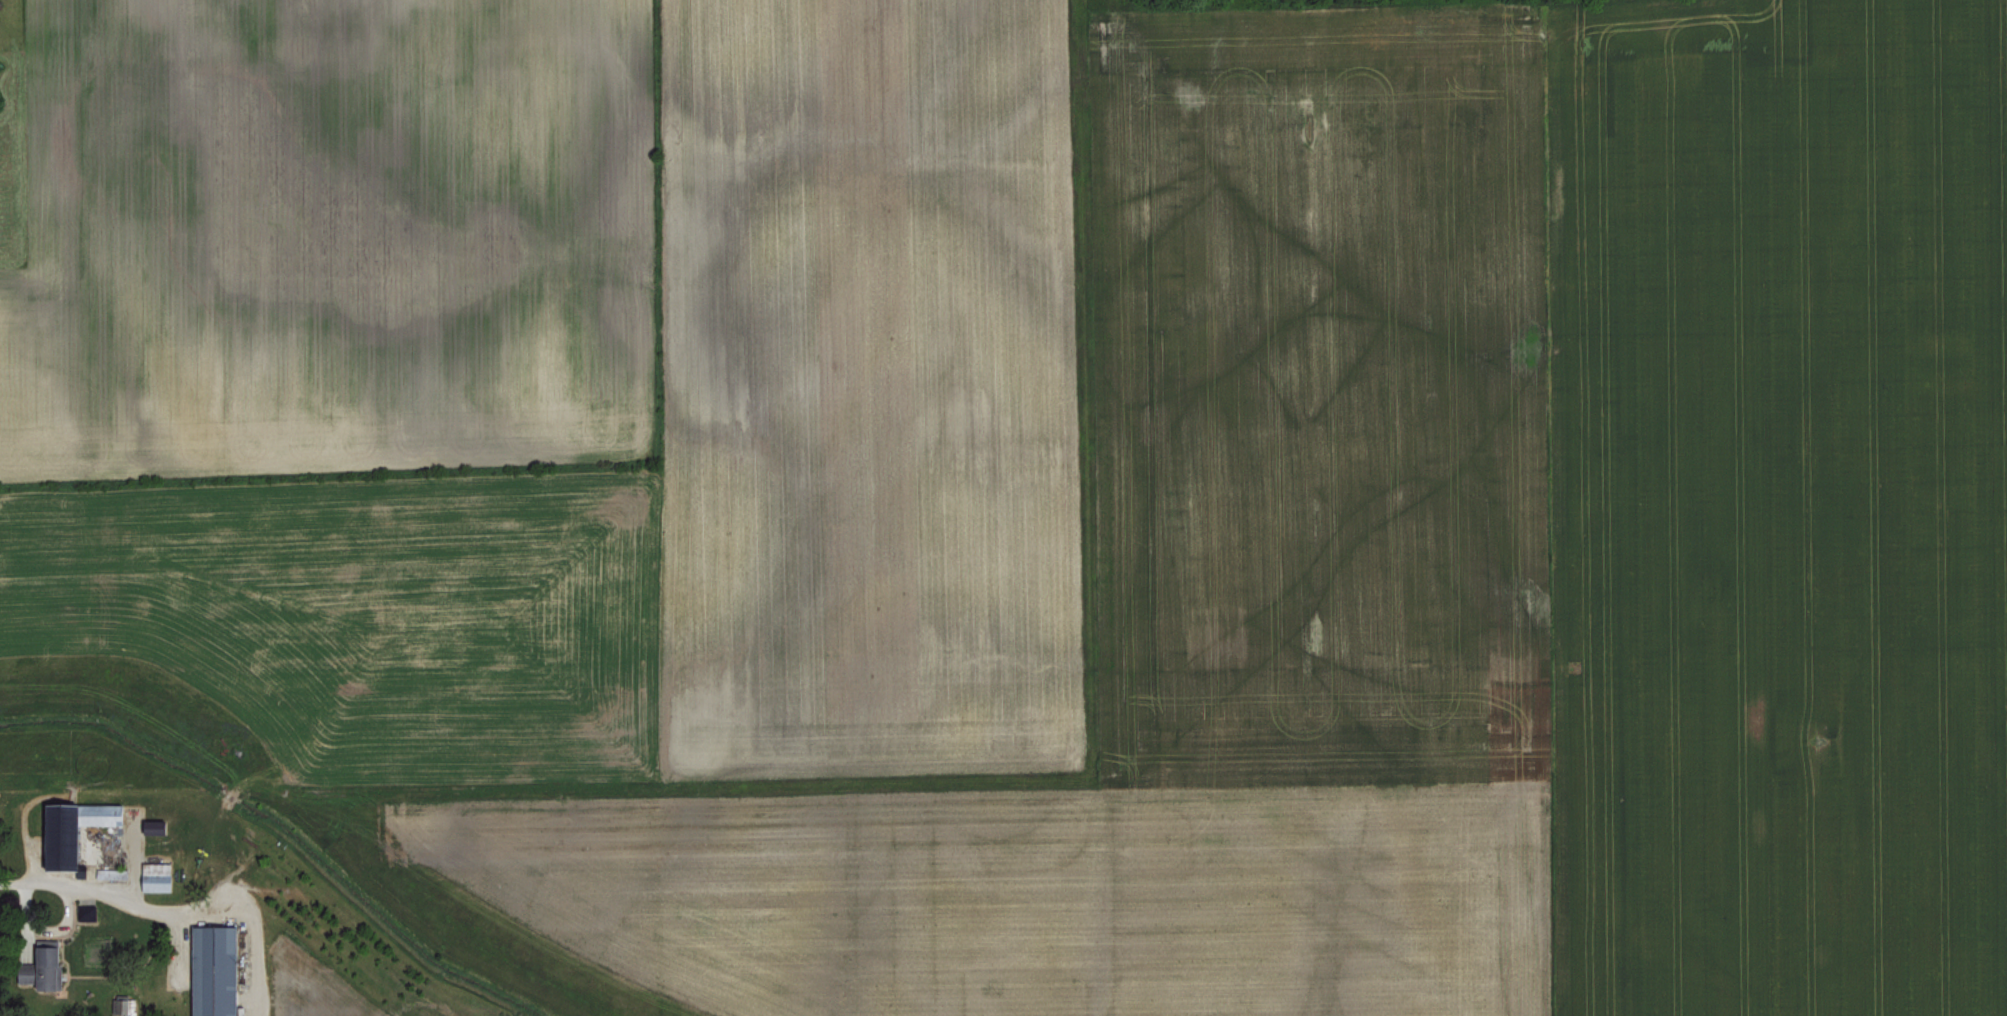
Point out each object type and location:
building: (76, 827)
building: (158, 875)
road: (13, 881)
building: (46, 968)
building: (217, 970)

